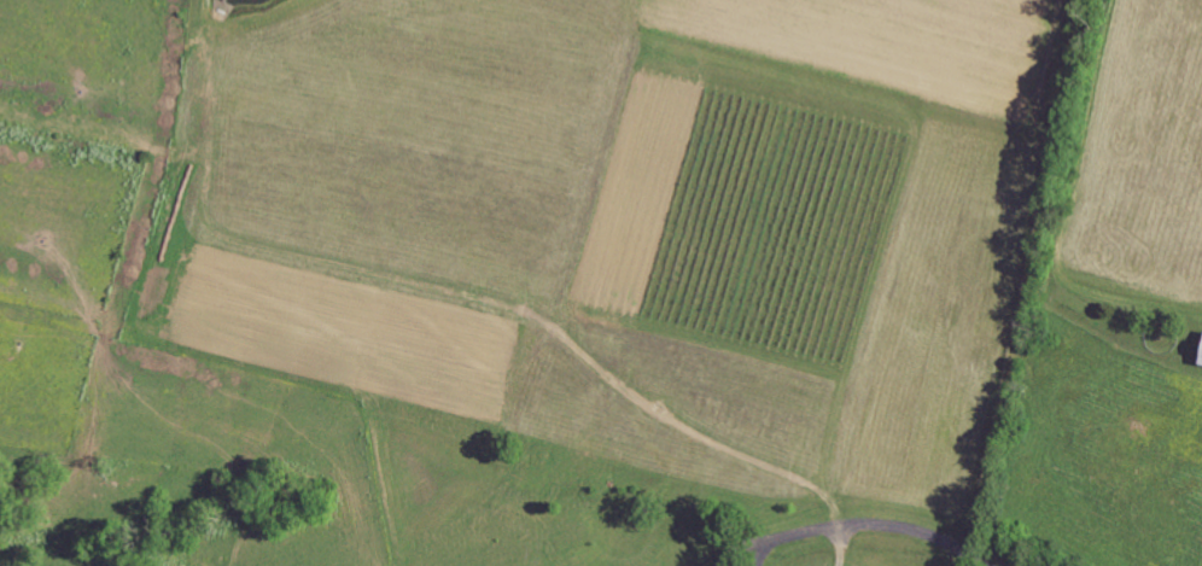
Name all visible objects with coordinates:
road: (877, 529)
road: (846, 547)
road: (740, 549)
road: (758, 554)

